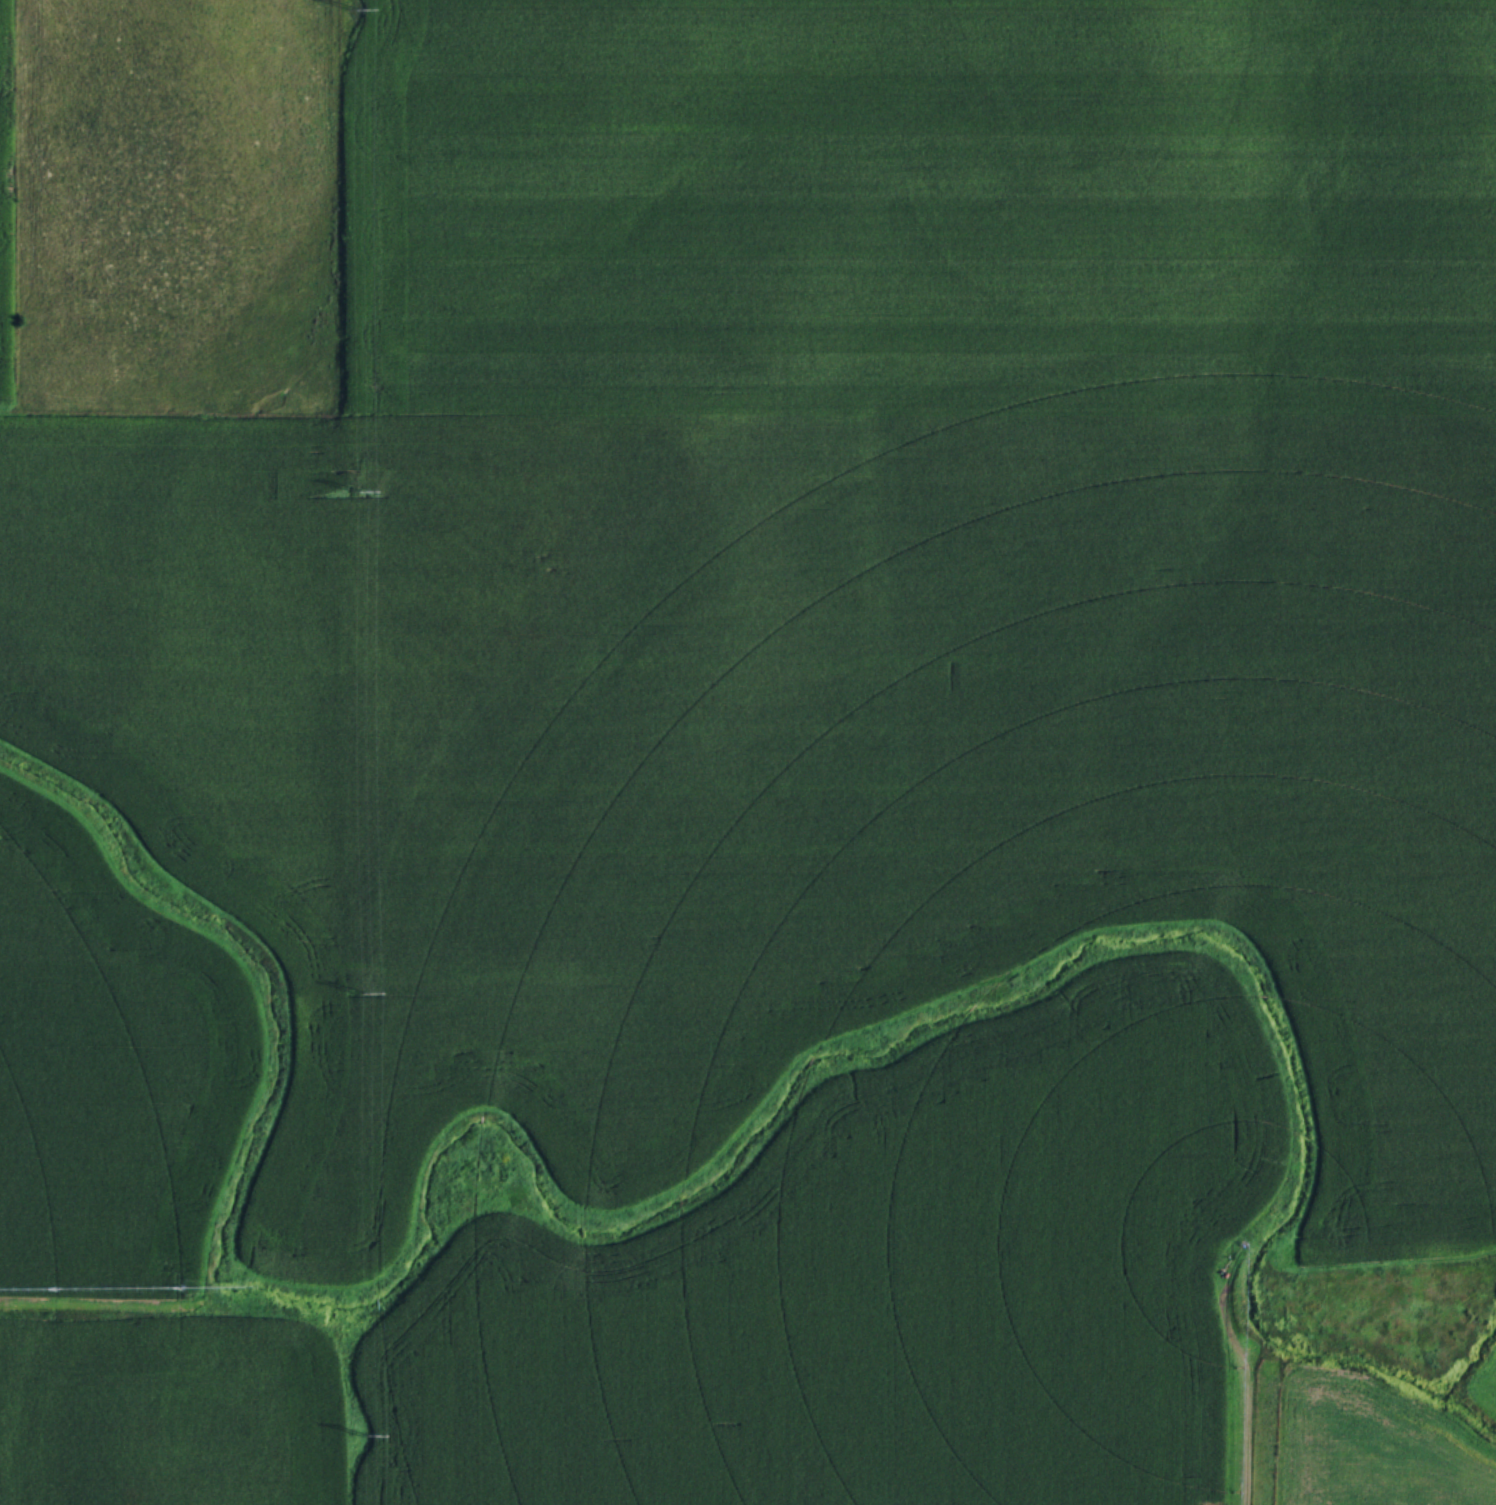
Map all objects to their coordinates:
power tower: (356, 10)
power tower: (359, 491)
power tower: (363, 993)
power tower: (366, 1435)

